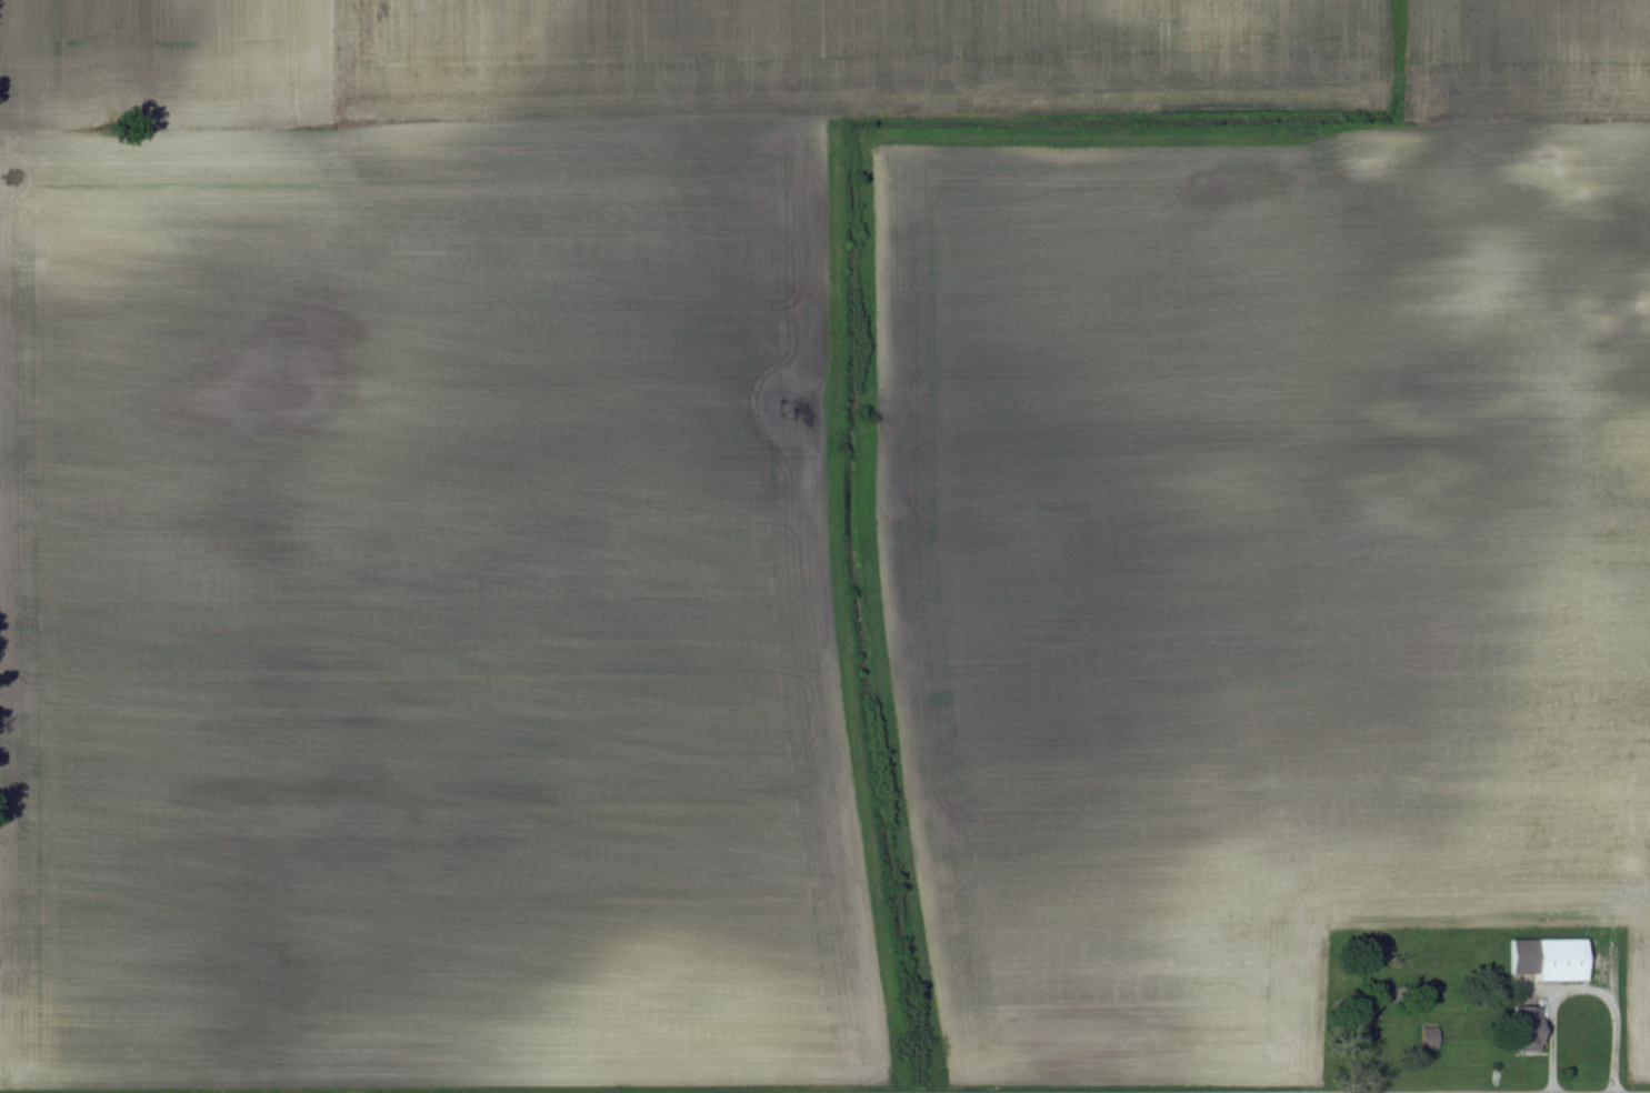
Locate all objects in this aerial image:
road: (1631, 834)
building: (1523, 954)
building: (1562, 959)
building: (1528, 1030)

